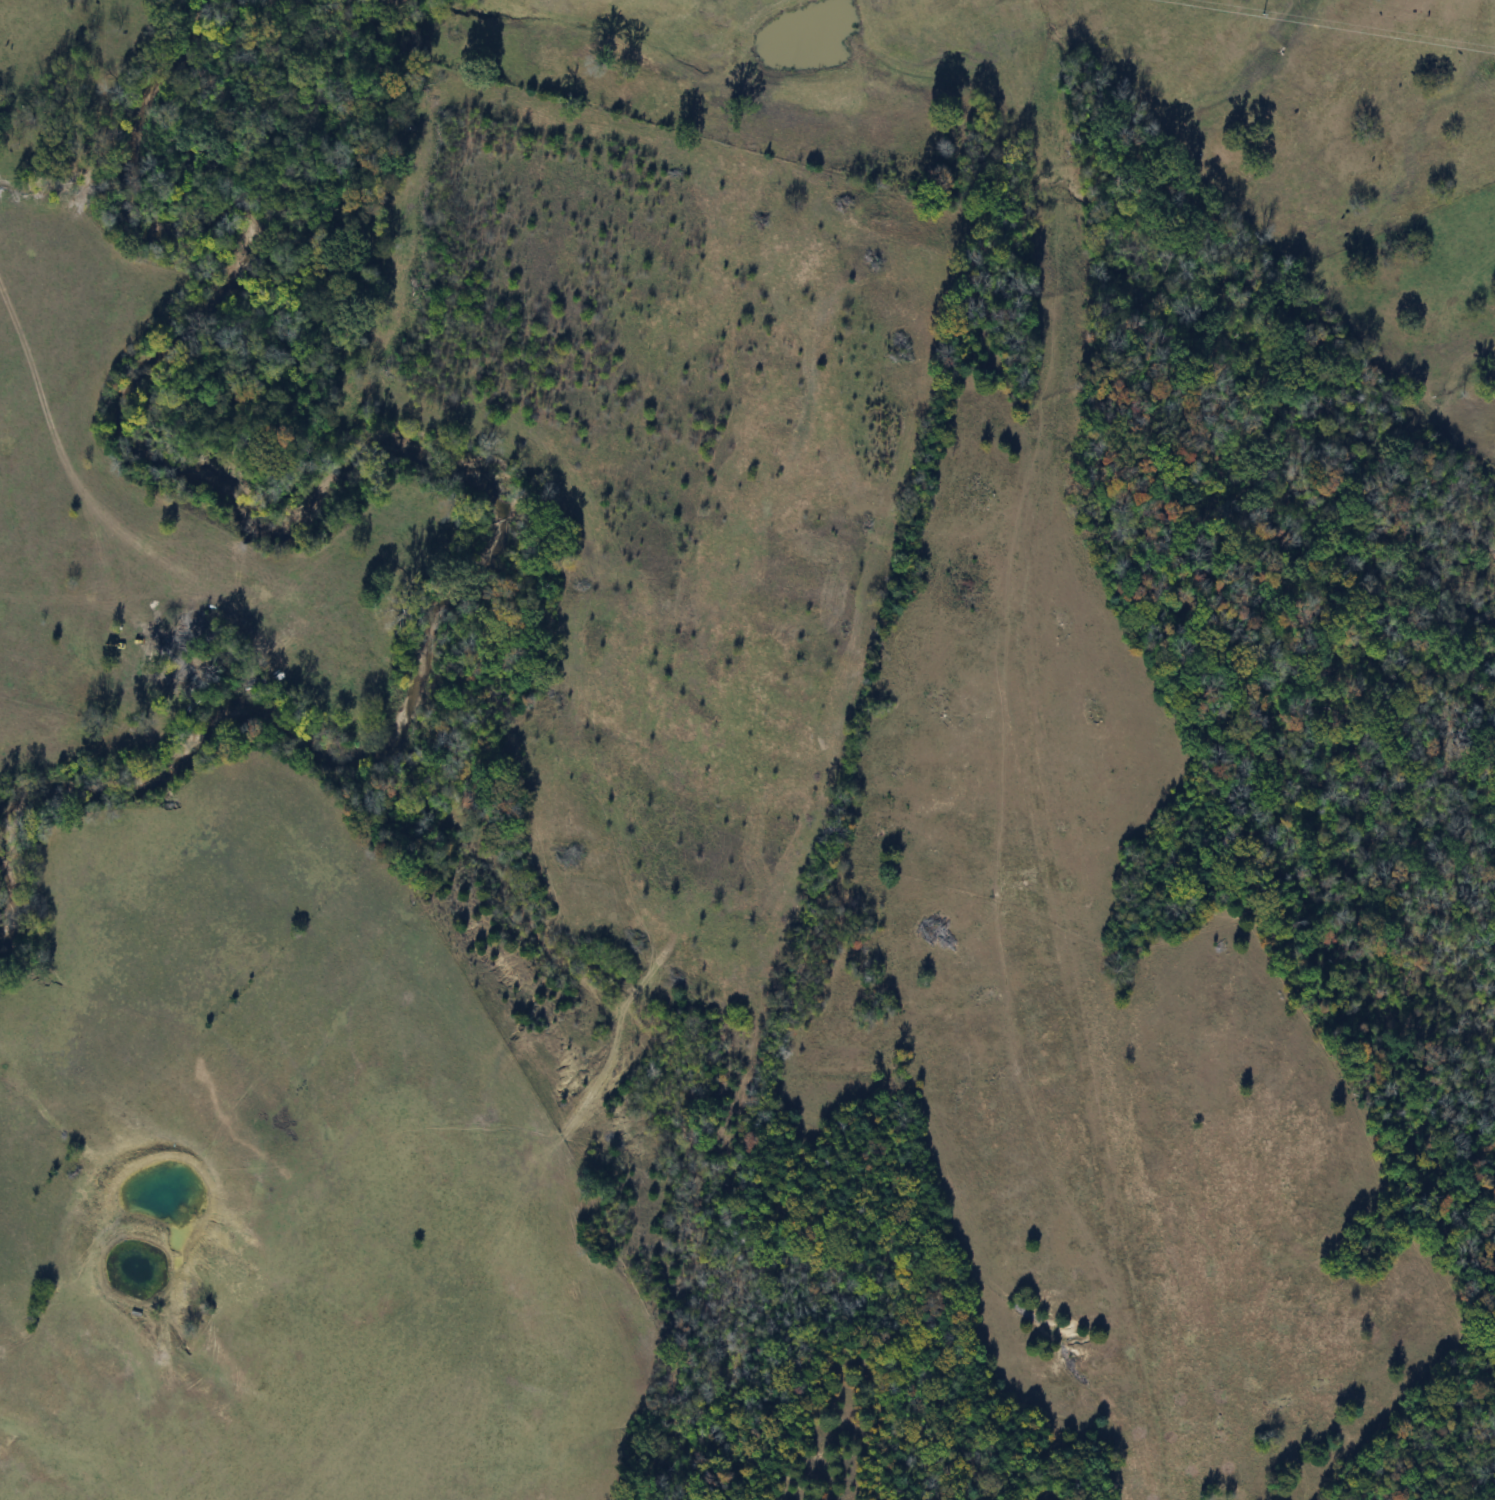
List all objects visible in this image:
power tower: (1263, 12)

